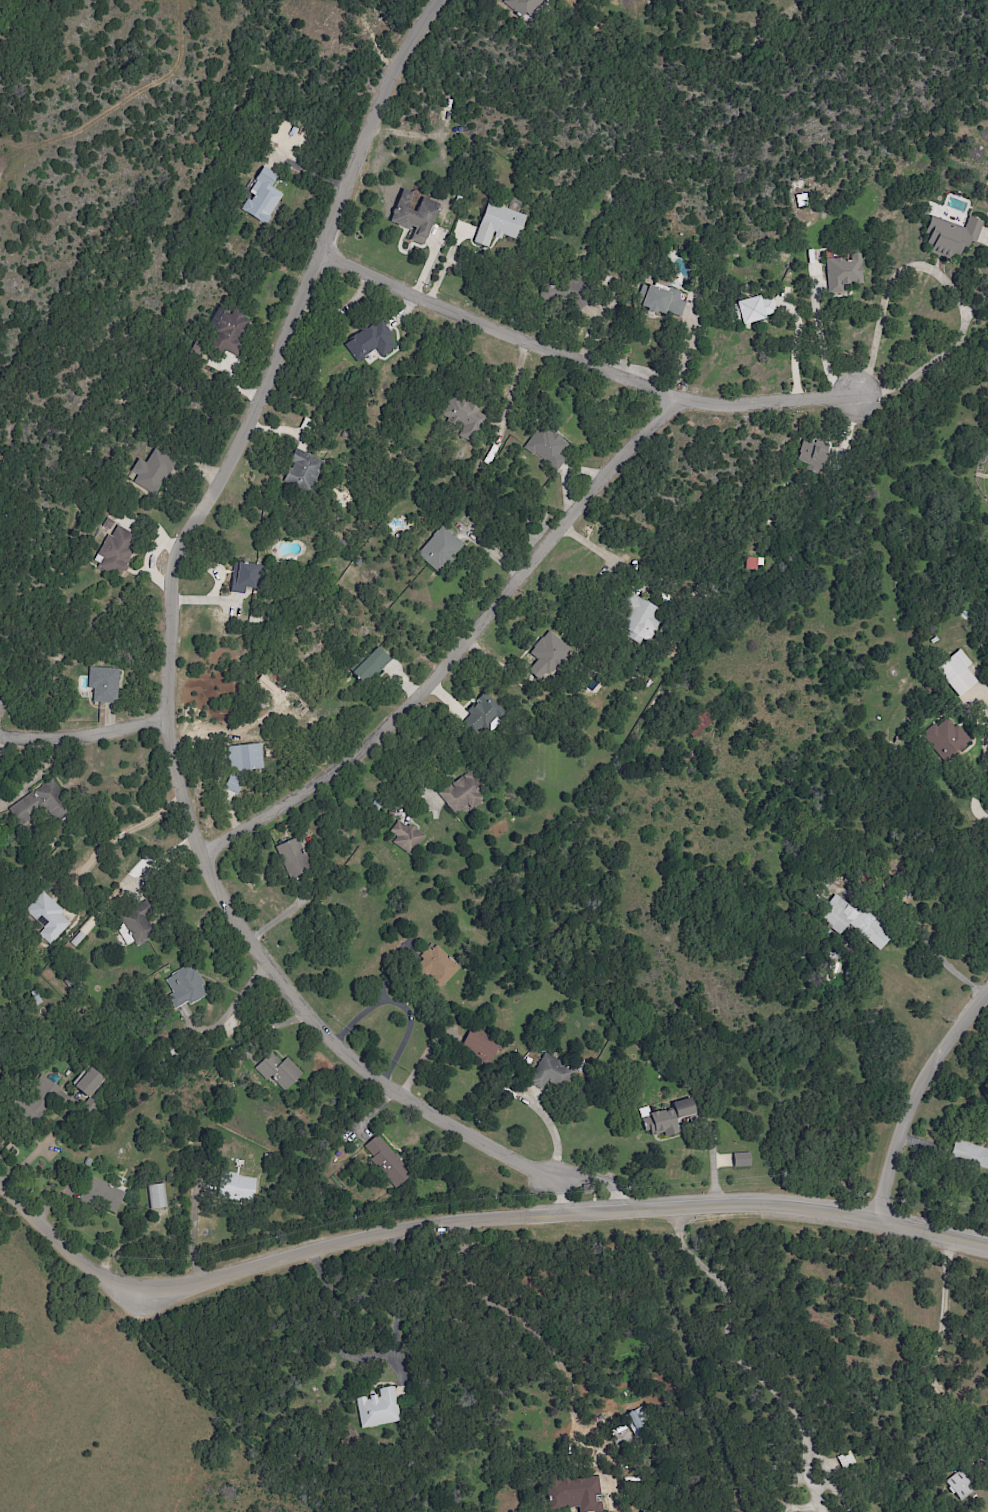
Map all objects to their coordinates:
building: (261, 197)
building: (414, 215)
building: (498, 224)
building: (951, 235)
building: (842, 273)
road: (942, 280)
building: (663, 300)
building: (755, 308)
building: (228, 329)
building: (370, 341)
road: (682, 351)
road: (577, 366)
building: (461, 415)
building: (546, 446)
building: (812, 453)
building: (301, 468)
building: (150, 470)
building: (439, 548)
building: (115, 552)
road: (602, 553)
building: (754, 563)
building: (244, 577)
building: (638, 617)
road: (453, 648)
building: (544, 655)
building: (371, 665)
building: (956, 672)
building: (104, 684)
road: (167, 692)
building: (483, 713)
road: (84, 734)
road: (1, 736)
building: (946, 737)
building: (244, 757)
road: (34, 772)
building: (233, 785)
building: (462, 793)
building: (39, 803)
road: (977, 808)
road: (123, 831)
building: (405, 836)
building: (292, 858)
building: (47, 917)
building: (852, 921)
building: (136, 926)
road: (946, 965)
building: (436, 967)
building: (185, 987)
road: (381, 989)
road: (400, 1006)
road: (226, 1013)
building: (480, 1044)
building: (278, 1071)
building: (549, 1072)
road: (916, 1090)
building: (42, 1096)
building: (670, 1117)
building: (970, 1155)
road: (712, 1156)
building: (741, 1159)
building: (386, 1161)
building: (236, 1187)
building: (104, 1194)
building: (157, 1196)
road: (565, 1196)
road: (470, 1222)
road: (192, 1237)
road: (516, 1321)
road: (394, 1328)
road: (942, 1343)
road: (738, 1362)
building: (378, 1408)
building: (638, 1421)
building: (959, 1485)
building: (576, 1493)

